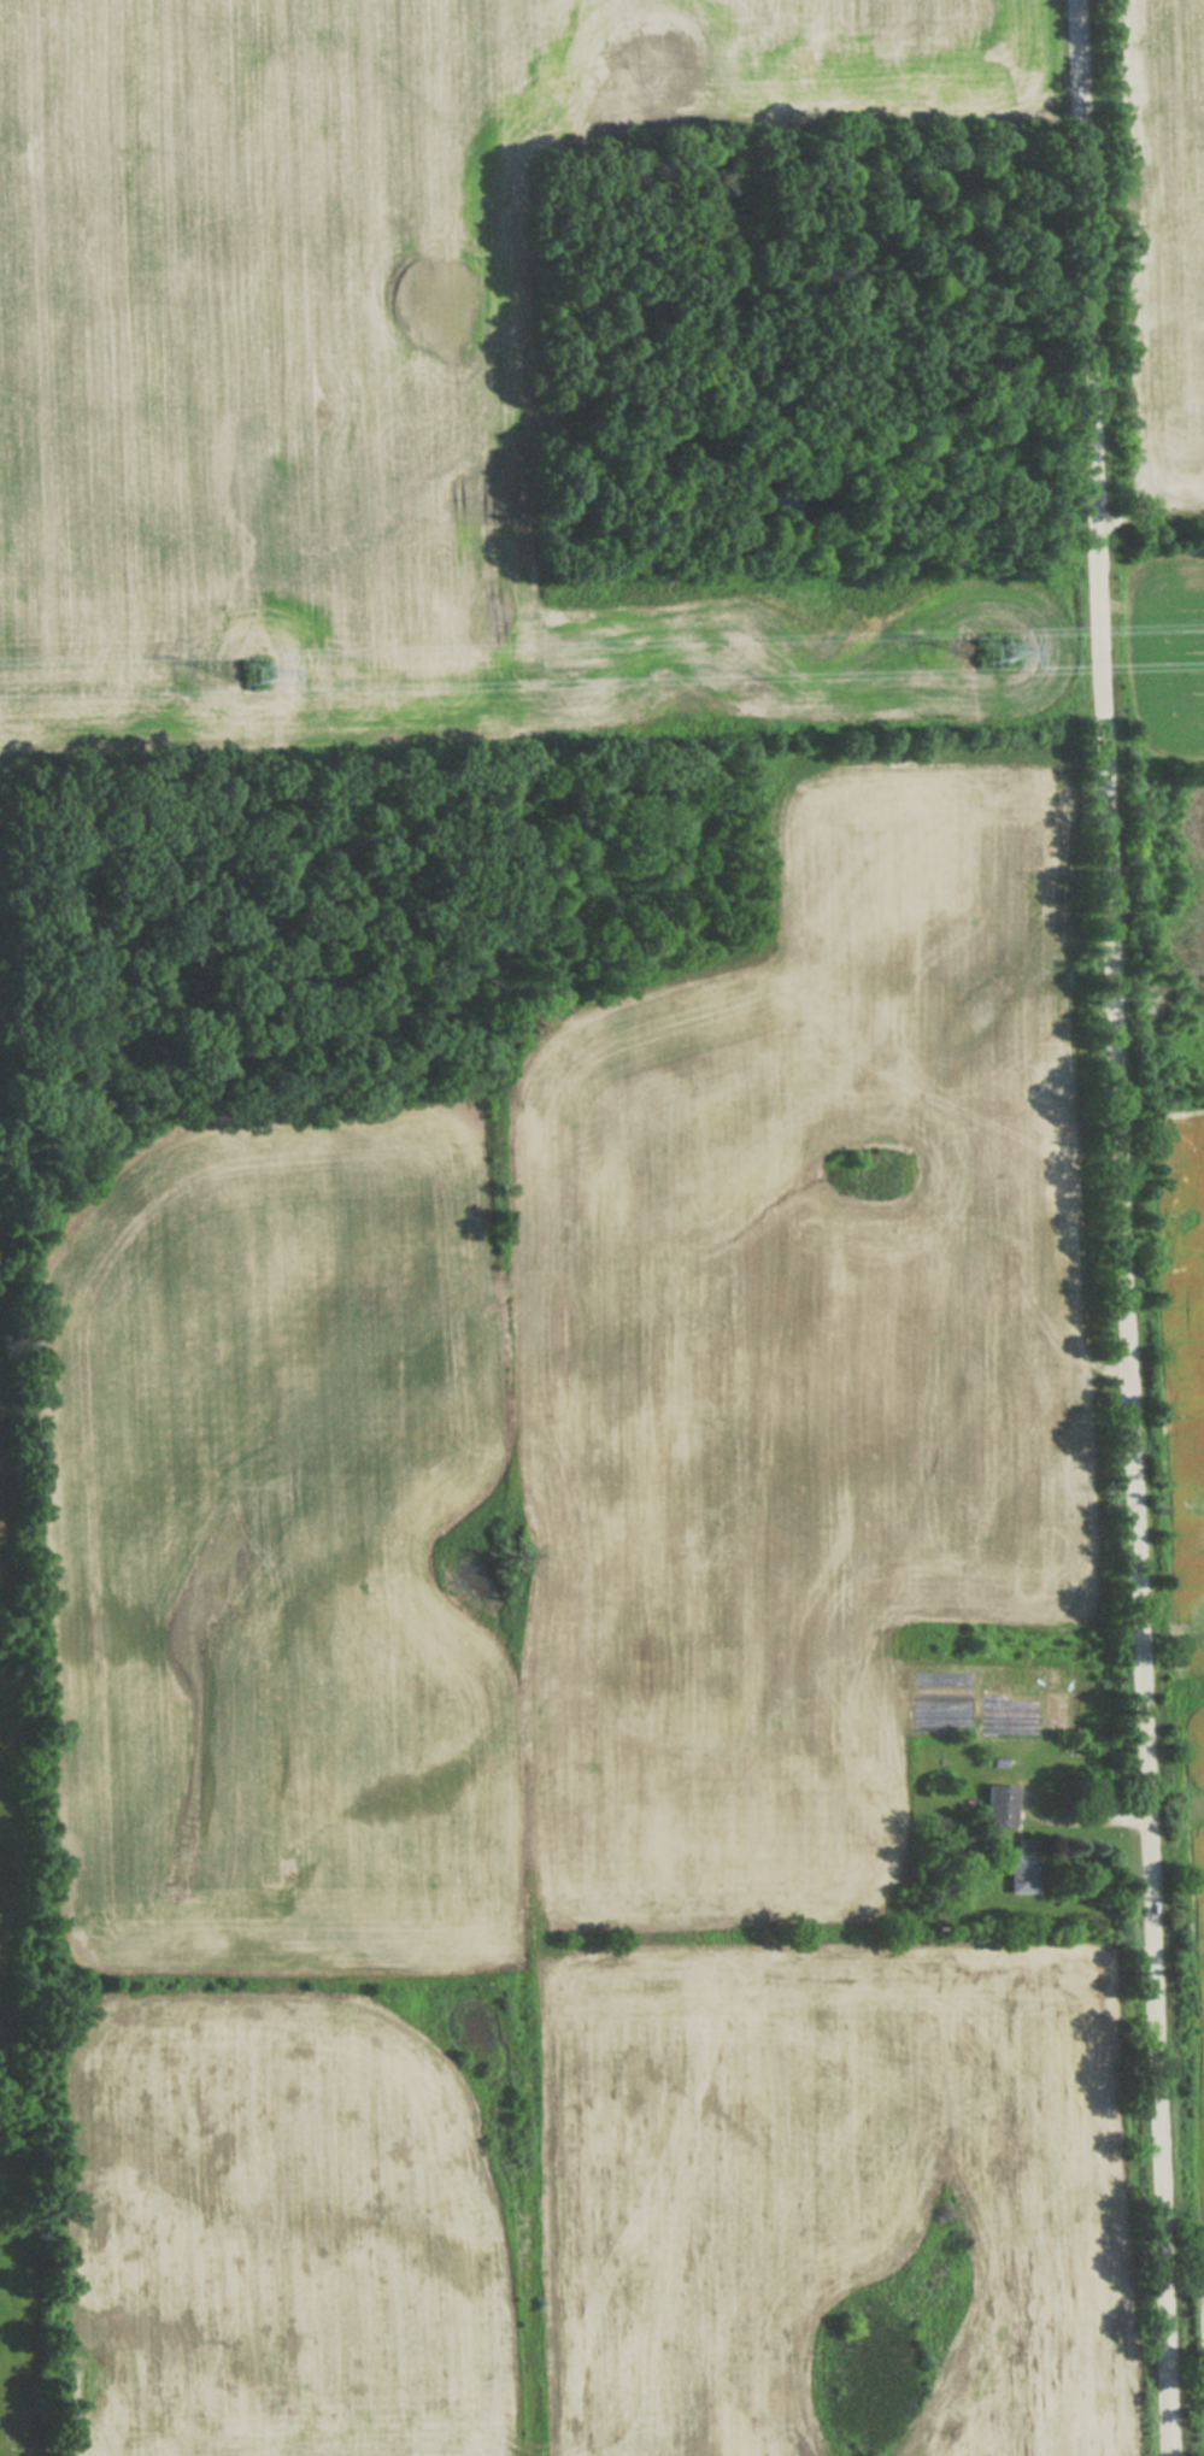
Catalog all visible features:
power tower: (991, 652)
power tower: (252, 672)
road: (1124, 1228)
building: (1000, 1805)
building: (1023, 1872)

